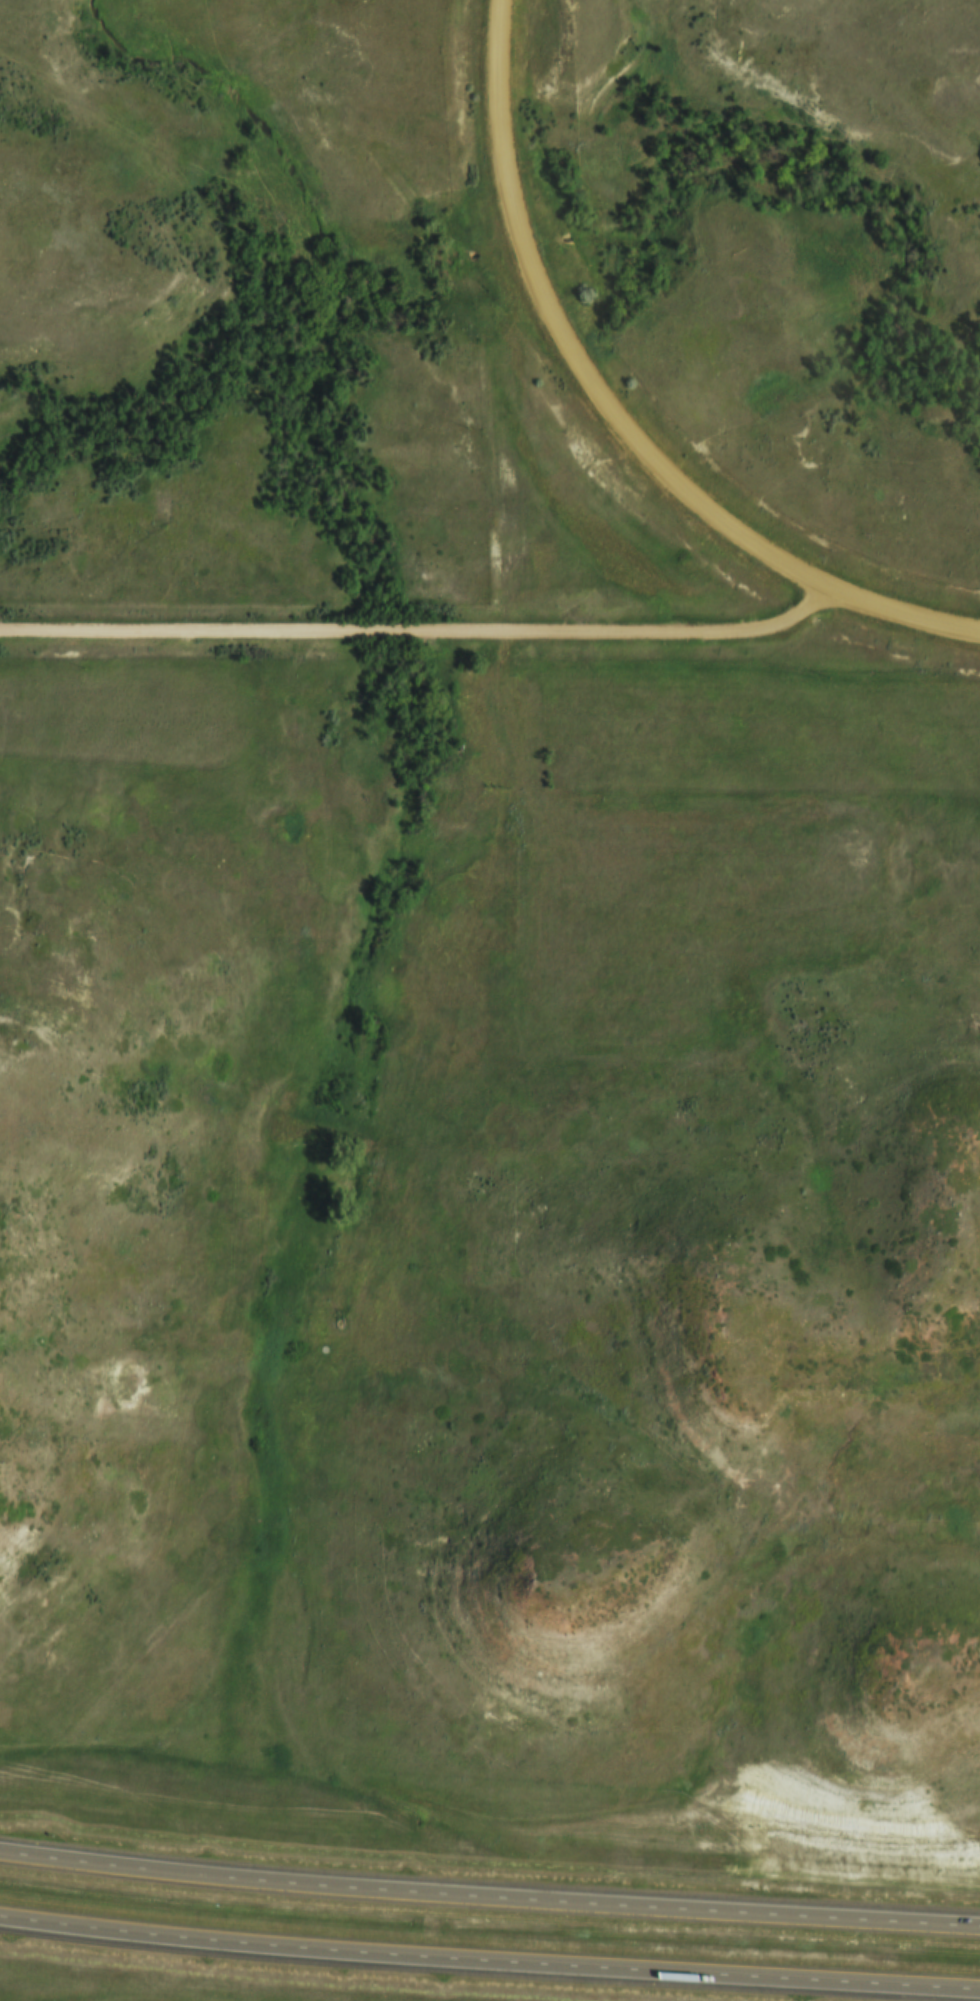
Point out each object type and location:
road: (566, 346)
road: (899, 621)
road: (420, 638)
road: (489, 1898)
road: (489, 1960)

